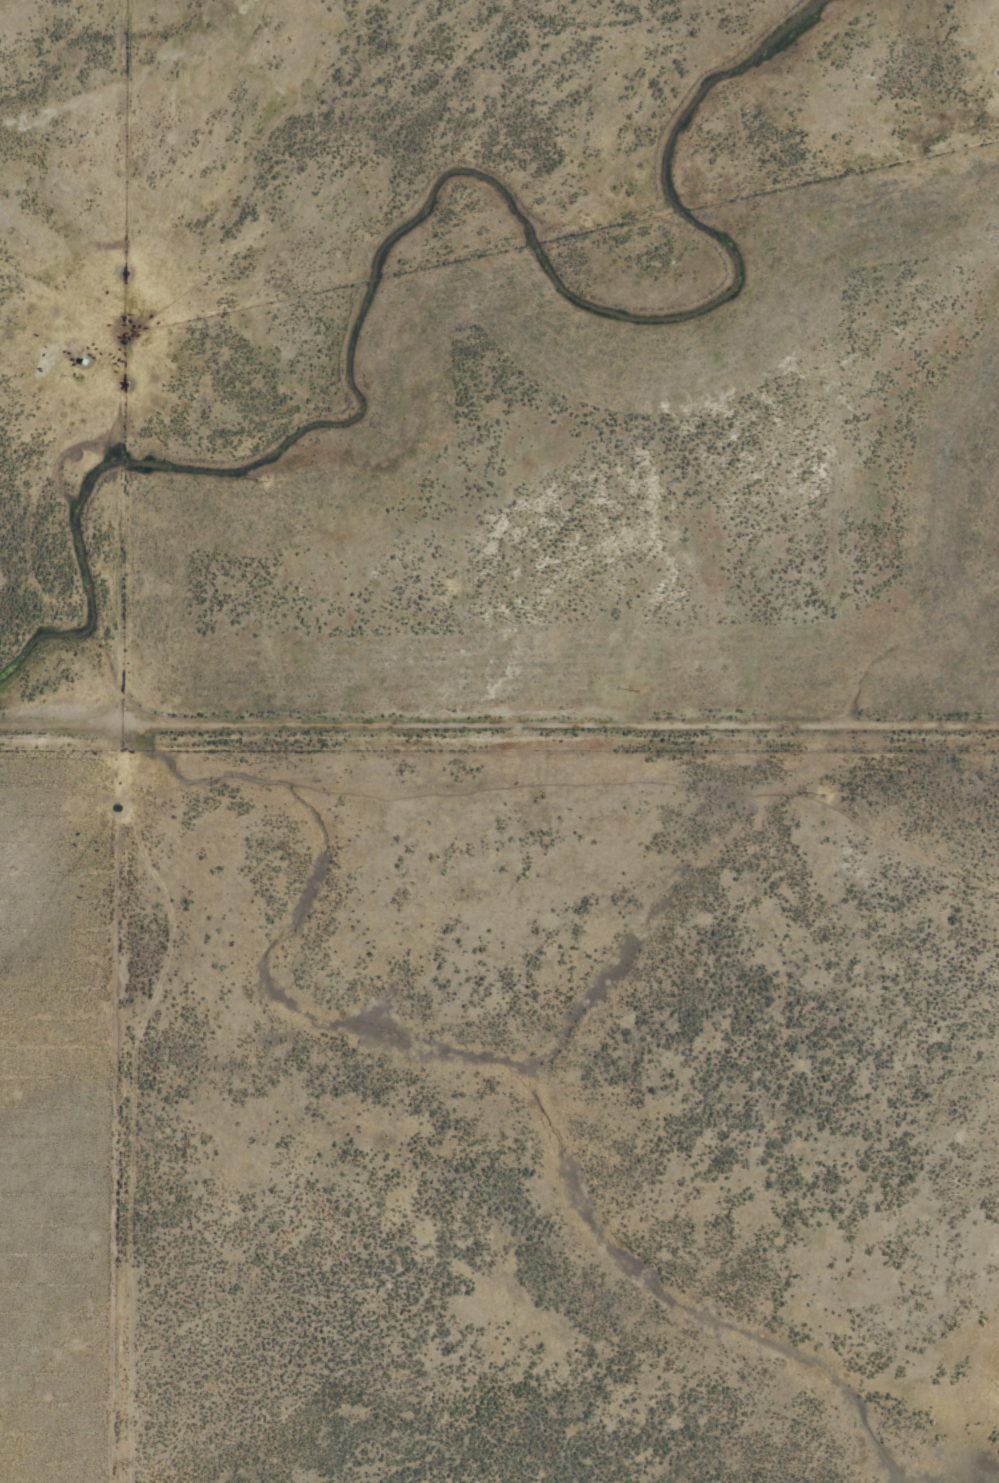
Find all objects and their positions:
crop: (499, 741)

